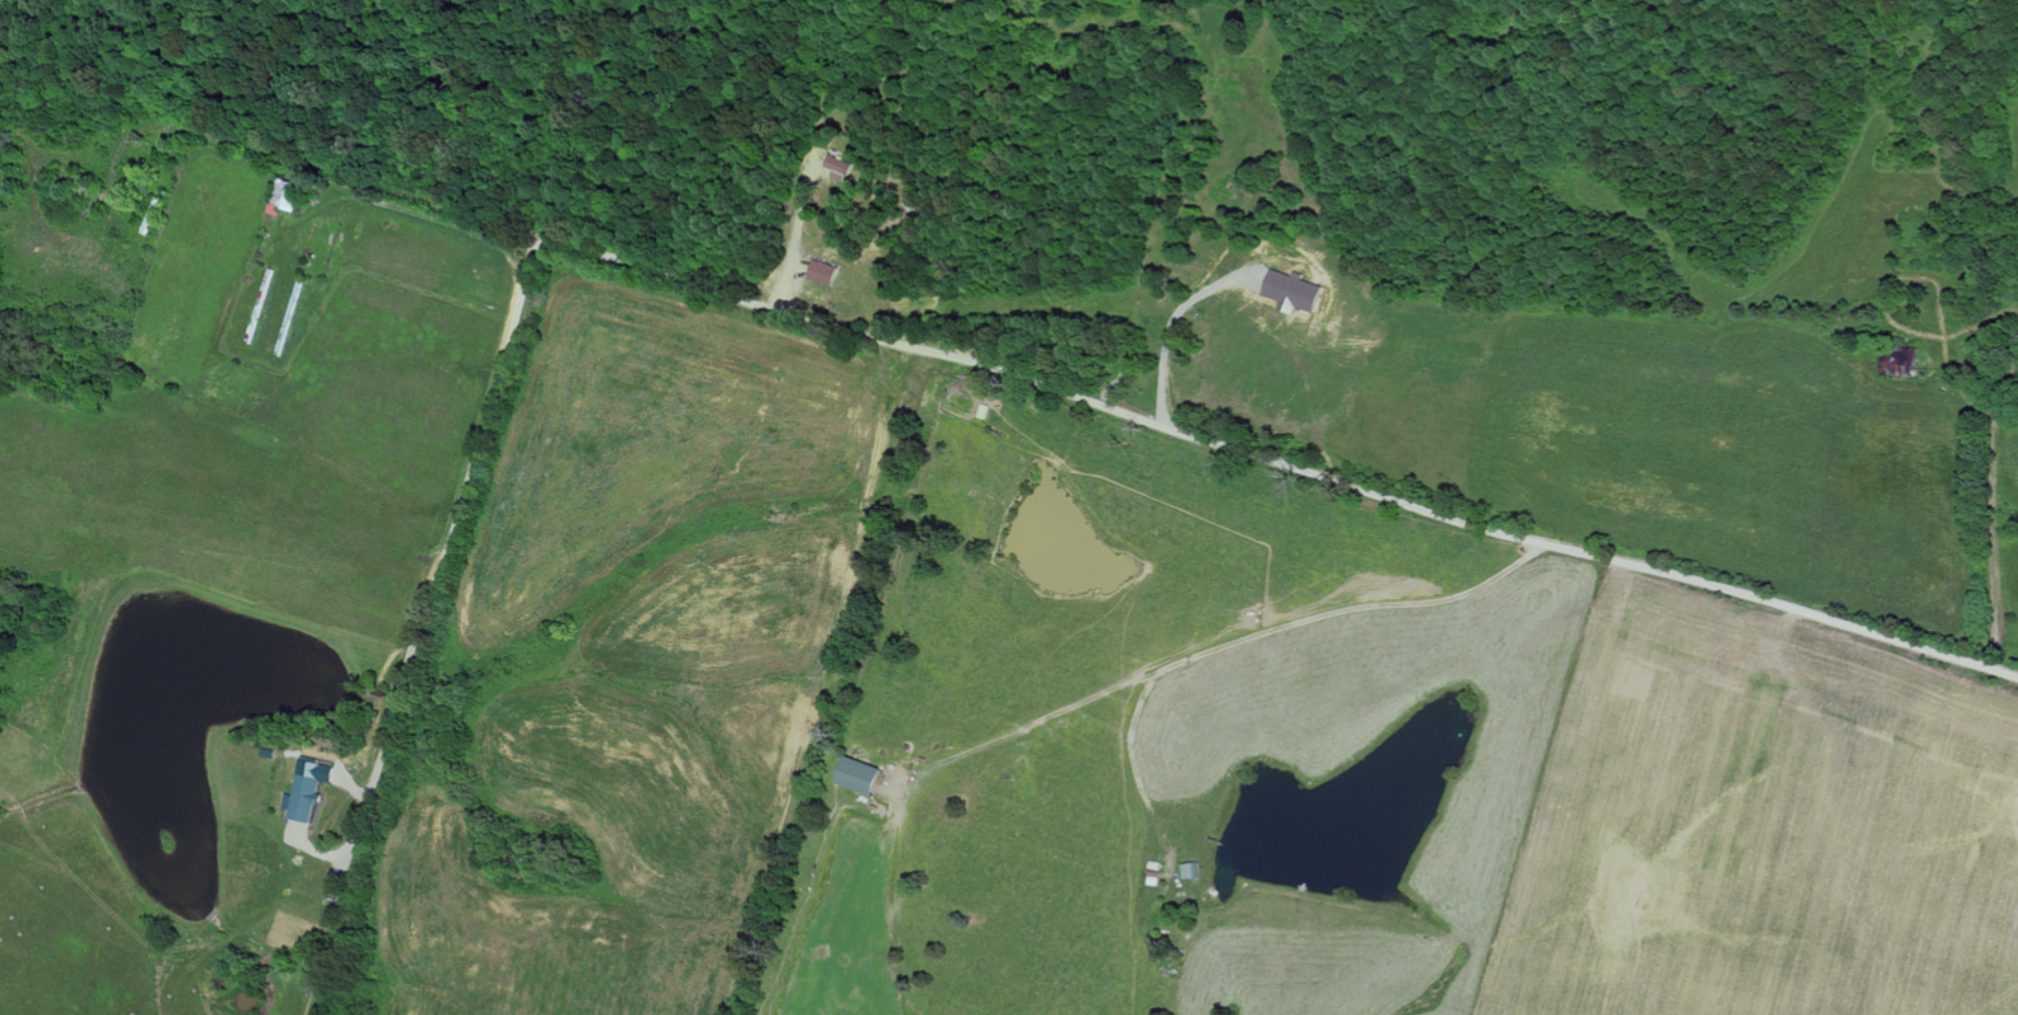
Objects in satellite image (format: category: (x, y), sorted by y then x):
building: (843, 165)
building: (293, 194)
building: (828, 272)
building: (1295, 291)
road: (1111, 409)
road: (444, 572)
building: (865, 776)
building: (310, 790)
building: (1194, 870)

